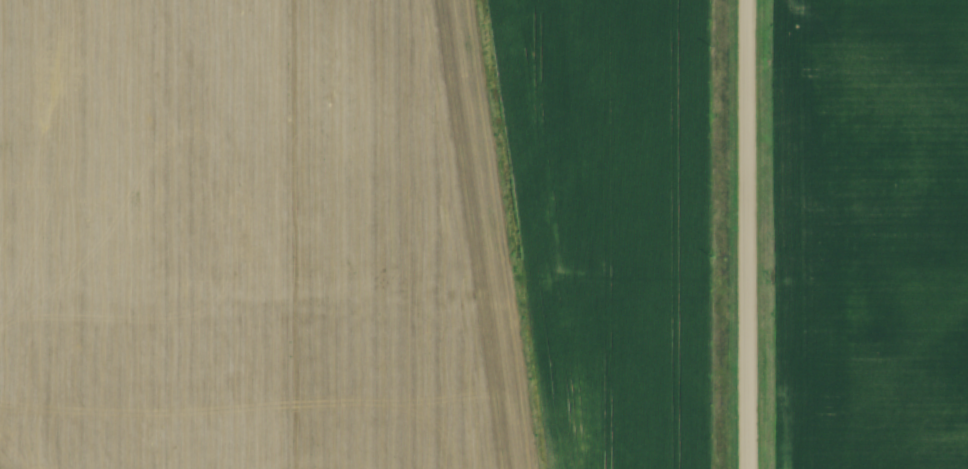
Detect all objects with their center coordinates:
road: (745, 234)

